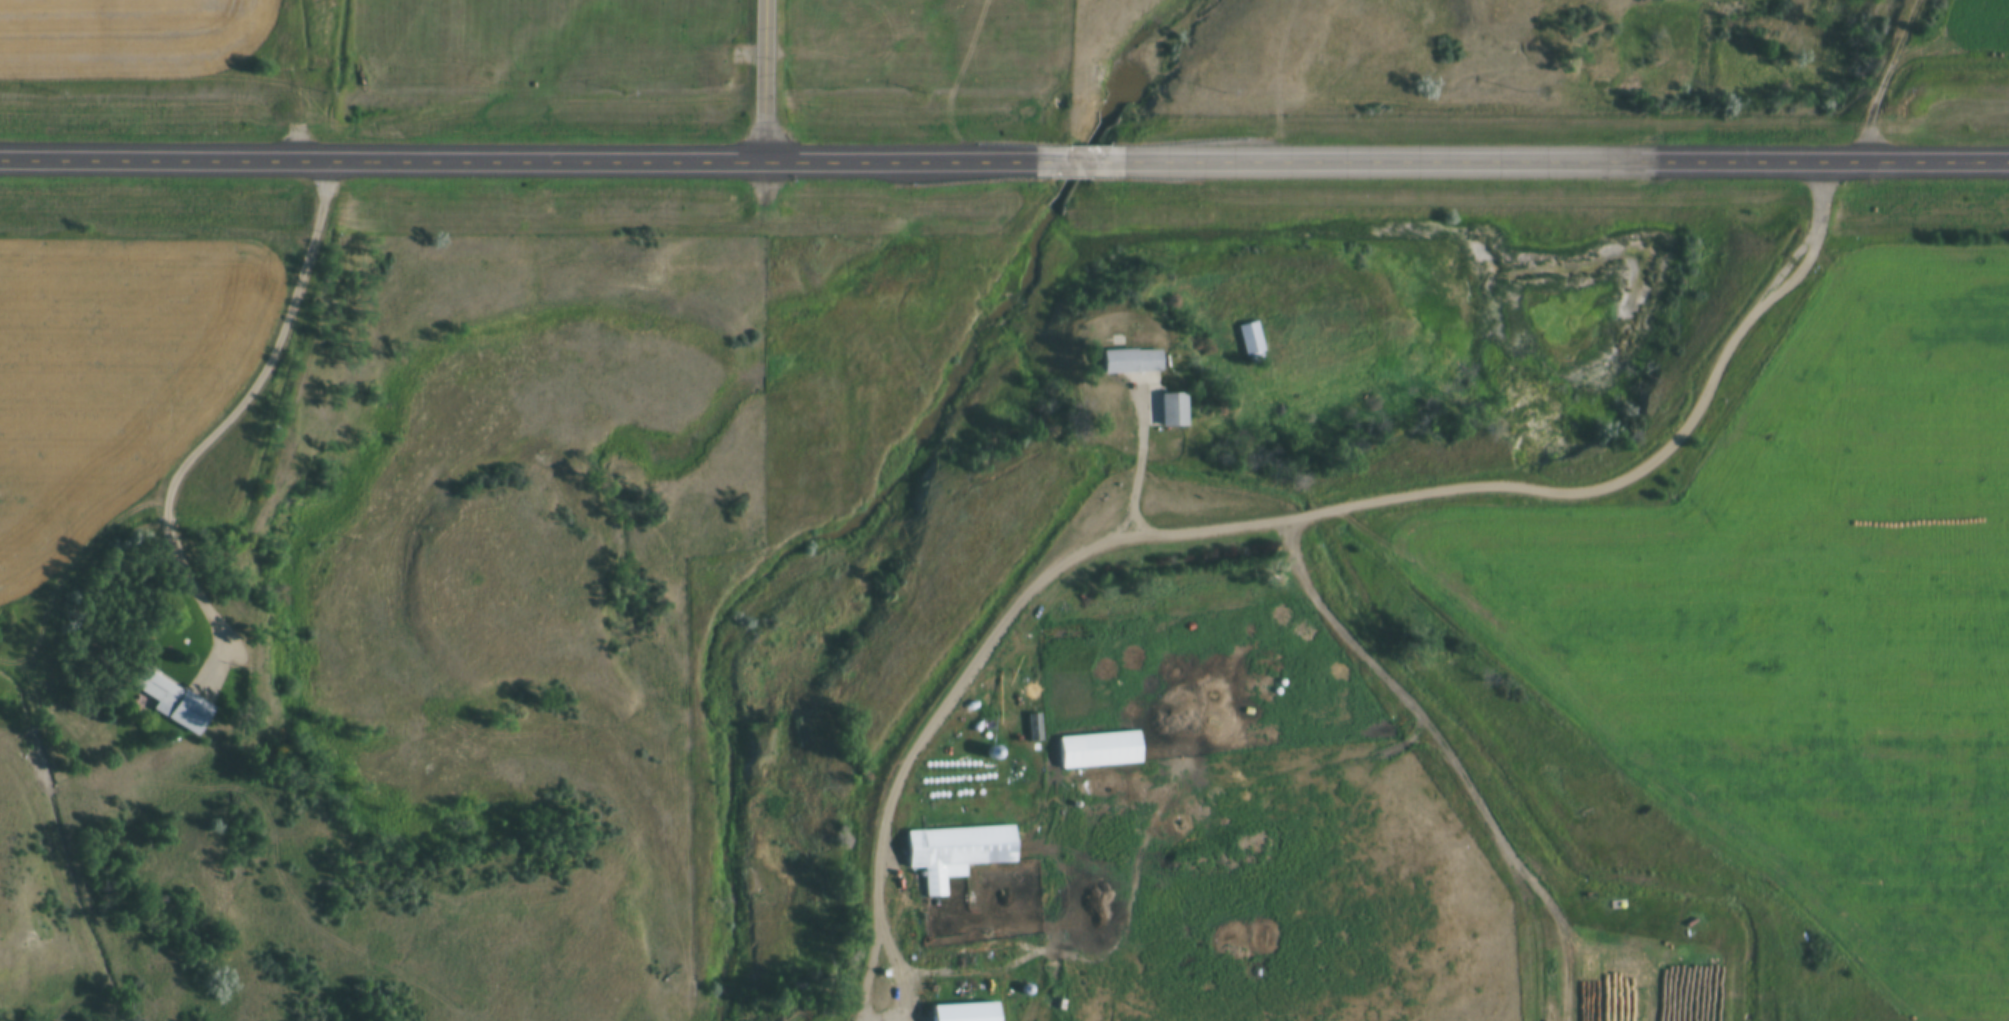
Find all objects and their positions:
road: (1883, 76)
road: (762, 79)
road: (517, 158)
road: (1079, 158)
road: (1566, 158)
building: (1250, 340)
building: (1148, 384)
road: (217, 427)
road: (1140, 460)
road: (1212, 526)
building: (172, 702)
building: (1034, 729)
building: (1099, 750)
road: (1442, 763)
building: (956, 853)
building: (947, 1016)

